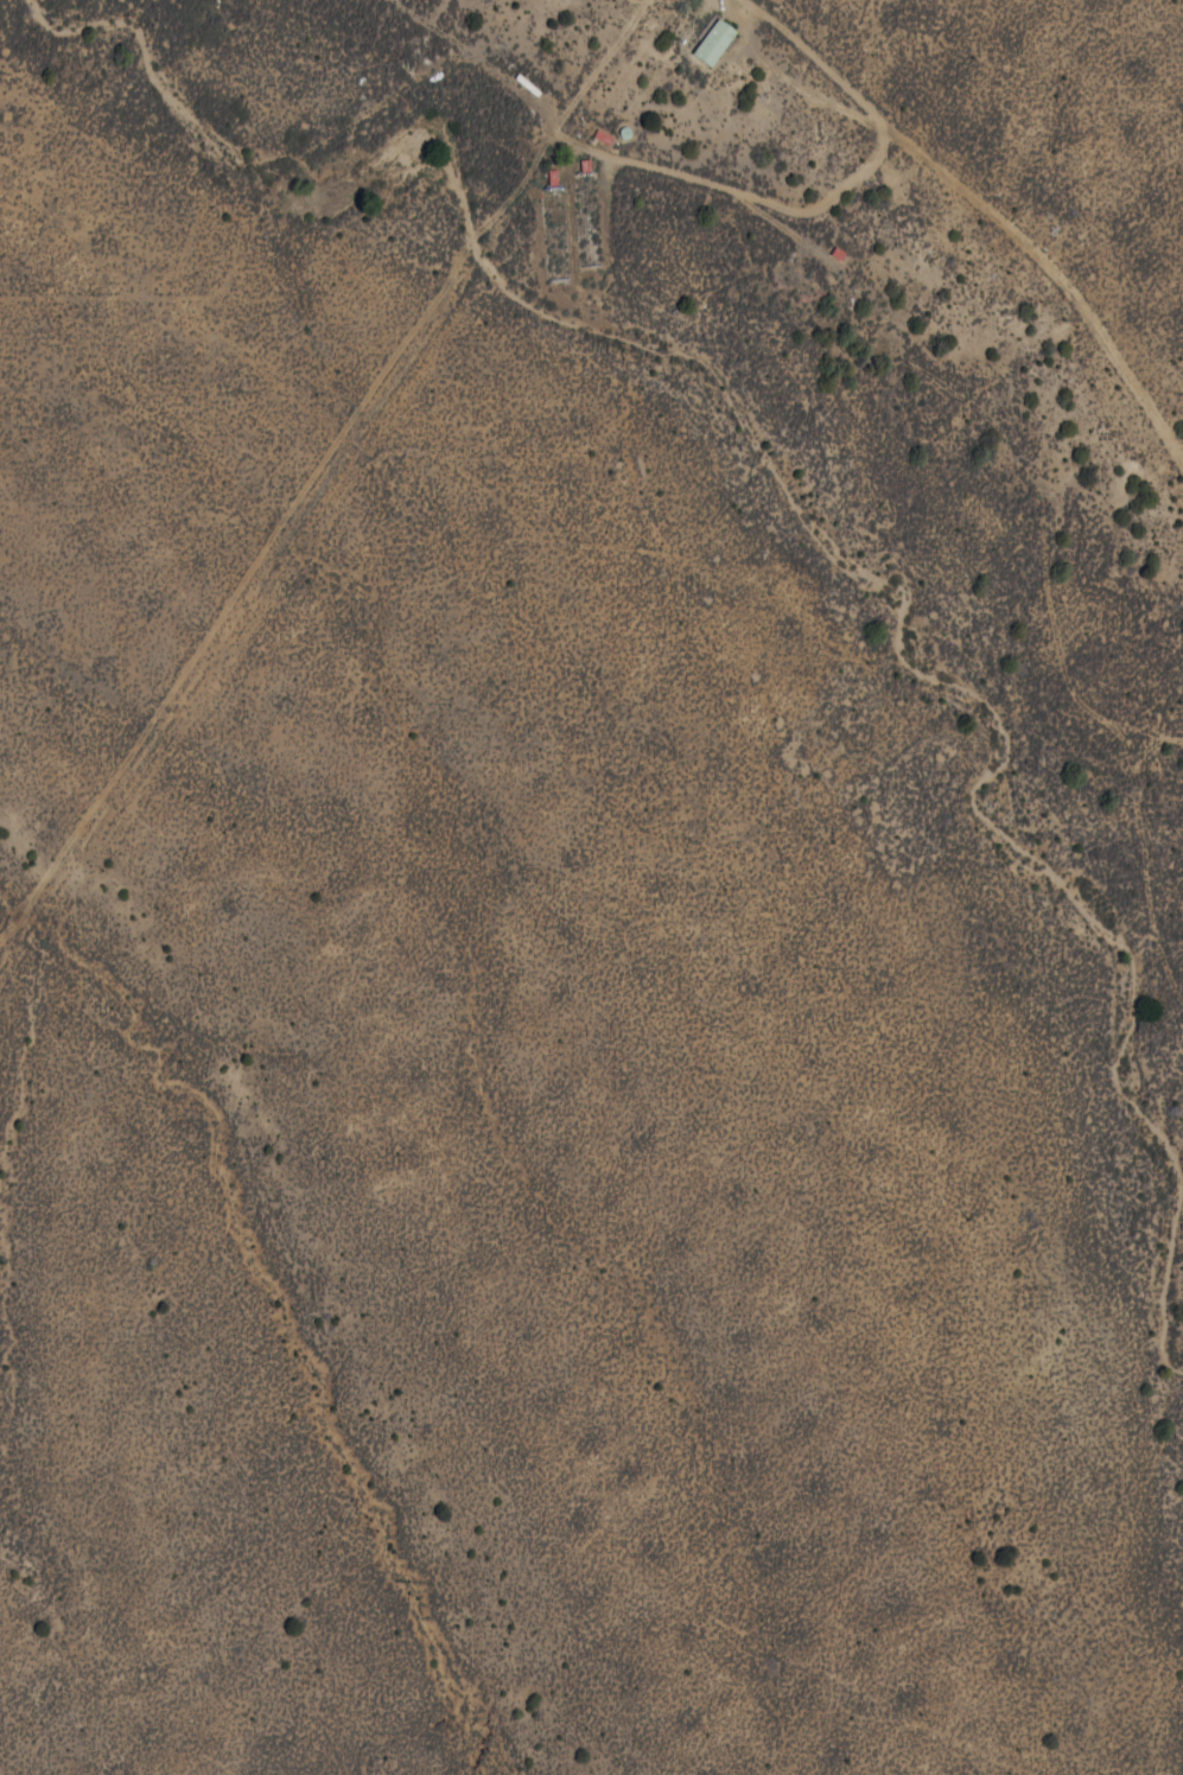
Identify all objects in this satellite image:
building: (712, 40)
road: (845, 187)
road: (1057, 272)

